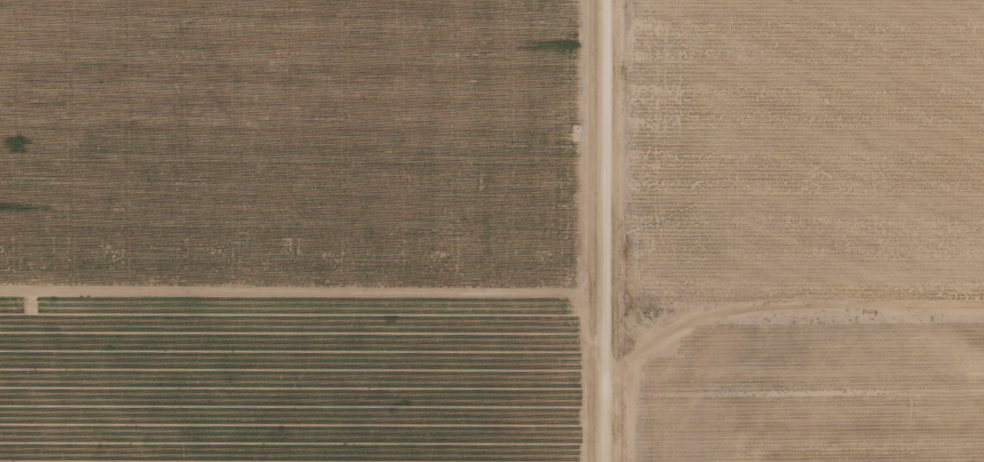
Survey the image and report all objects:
road: (608, 231)

